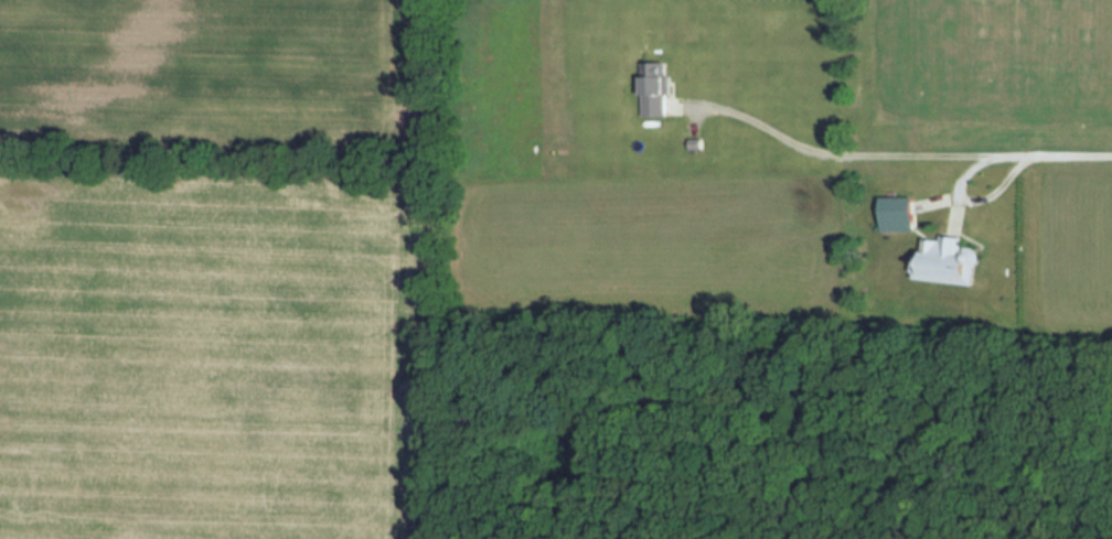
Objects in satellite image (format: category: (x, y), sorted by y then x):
road: (921, 164)
building: (898, 214)
building: (948, 261)

